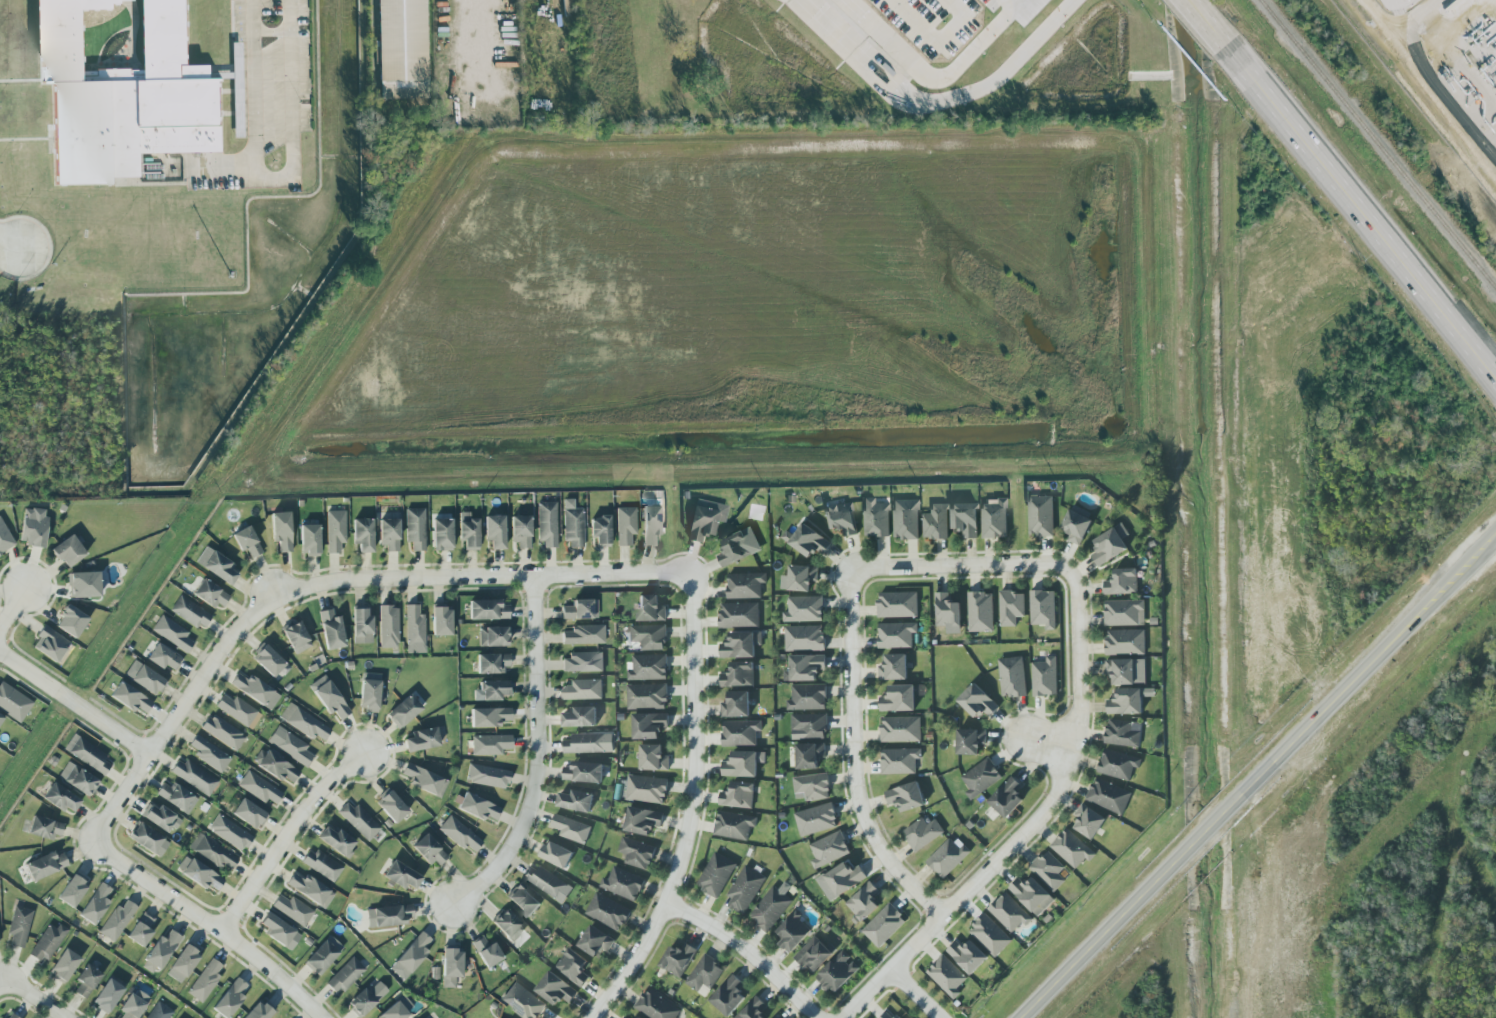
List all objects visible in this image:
road: (1381, 12)
road: (1204, 23)
building: (403, 40)
road: (929, 44)
building: (238, 77)
road: (1430, 79)
road: (926, 80)
building: (125, 96)
road: (935, 106)
railway: (1377, 143)
road: (275, 175)
road: (1359, 210)
building: (1041, 515)
building: (842, 517)
building: (876, 517)
building: (994, 517)
building: (906, 518)
building: (965, 518)
building: (706, 519)
building: (936, 521)
building: (546, 524)
building: (571, 524)
building: (651, 524)
building: (624, 525)
building: (1076, 526)
building: (33, 527)
building: (414, 528)
building: (280, 530)
building: (335, 530)
building: (520, 530)
building: (599, 530)
building: (467, 531)
building: (494, 531)
building: (388, 534)
building: (441, 534)
building: (362, 535)
building: (5, 538)
building: (309, 539)
building: (806, 540)
building: (246, 541)
building: (1110, 544)
building: (734, 548)
building: (67, 551)
road: (963, 565)
building: (219, 568)
building: (802, 576)
road: (328, 581)
building: (1122, 581)
building: (745, 584)
building: (83, 585)
building: (209, 593)
building: (897, 604)
road: (12, 606)
building: (1011, 606)
building: (650, 608)
building: (804, 608)
building: (1043, 608)
building: (580, 609)
building: (487, 610)
building: (946, 610)
building: (980, 611)
building: (1124, 612)
building: (189, 613)
building: (739, 614)
building: (70, 621)
building: (441, 621)
building: (361, 625)
building: (388, 627)
building: (330, 629)
building: (414, 630)
building: (171, 633)
building: (896, 634)
building: (583, 635)
building: (492, 636)
building: (649, 636)
building: (295, 637)
building: (804, 637)
building: (1125, 641)
building: (741, 643)
building: (49, 644)
building: (162, 657)
building: (267, 660)
building: (582, 662)
building: (491, 663)
building: (893, 666)
building: (648, 667)
building: (804, 667)
road: (1370, 668)
building: (1126, 670)
building: (739, 674)
building: (1012, 676)
building: (1044, 676)
building: (147, 680)
building: (583, 689)
building: (254, 690)
building: (491, 690)
building: (368, 695)
building: (647, 695)
building: (807, 696)
building: (328, 697)
building: (130, 698)
building: (898, 698)
building: (1128, 700)
building: (977, 701)
building: (13, 702)
road: (75, 704)
building: (736, 704)
building: (236, 709)
building: (403, 710)
building: (580, 716)
building: (0, 717)
building: (489, 717)
building: (303, 722)
building: (649, 724)
building: (809, 725)
building: (900, 728)
building: (740, 731)
building: (222, 732)
building: (1123, 732)
building: (421, 739)
building: (970, 740)
building: (589, 742)
building: (490, 744)
road: (1041, 745)
building: (289, 746)
building: (208, 753)
building: (86, 754)
road: (538, 754)
building: (809, 754)
building: (653, 757)
road: (855, 757)
building: (899, 760)
building: (743, 762)
building: (1118, 764)
building: (274, 765)
building: (584, 771)
building: (192, 776)
building: (487, 776)
building: (980, 777)
building: (77, 779)
building: (423, 780)
building: (811, 786)
building: (259, 788)
building: (647, 788)
building: (738, 794)
building: (905, 795)
building: (1109, 795)
building: (176, 797)
building: (1007, 797)
building: (60, 798)
building: (576, 800)
building: (391, 807)
building: (477, 807)
road: (690, 807)
building: (249, 813)
building: (159, 817)
building: (816, 818)
building: (358, 820)
building: (642, 820)
building: (1088, 820)
building: (733, 824)
road: (1026, 826)
building: (44, 828)
building: (571, 828)
road: (1211, 829)
building: (229, 832)
building: (922, 832)
building: (458, 834)
road: (284, 839)
building: (148, 840)
building: (336, 841)
building: (1072, 848)
building: (829, 849)
building: (429, 850)
building: (637, 852)
building: (213, 853)
building: (556, 853)
building: (948, 856)
building: (44, 865)
building: (322, 865)
building: (1049, 869)
building: (198, 873)
building: (716, 874)
building: (401, 876)
building: (844, 877)
building: (548, 882)
building: (623, 883)
building: (745, 888)
building: (308, 889)
building: (71, 891)
building: (1032, 894)
building: (523, 899)
building: (863, 900)
building: (95, 904)
building: (771, 906)
building: (292, 909)
building: (608, 910)
building: (1009, 912)
building: (389, 915)
building: (116, 920)
road: (211, 925)
building: (507, 925)
building: (884, 925)
building: (19, 926)
building: (140, 929)
building: (276, 929)
building: (793, 931)
building: (990, 934)
building: (595, 940)
road: (1101, 940)
building: (46, 943)
road: (748, 950)
building: (159, 952)
building: (486, 952)
building: (413, 953)
building: (813, 954)
building: (968, 954)
building: (320, 958)
building: (678, 958)
building: (182, 963)
building: (63, 965)
building: (450, 966)
building: (573, 966)
building: (838, 971)
building: (705, 972)
building: (344, 975)
building: (947, 975)
road: (1, 980)
building: (86, 981)
building: (204, 981)
building: (555, 988)
road: (918, 992)
building: (108, 995)
building: (729, 995)
road: (34, 998)
building: (229, 998)
building: (365, 998)
building: (522, 1000)
building: (132, 1004)
building: (656, 1005)
building: (396, 1009)
building: (752, 1009)
building: (158, 1011)
building: (259, 1011)
building: (889, 1014)
building: (11, 1016)
building: (637, 1017)
building: (777, 1017)

